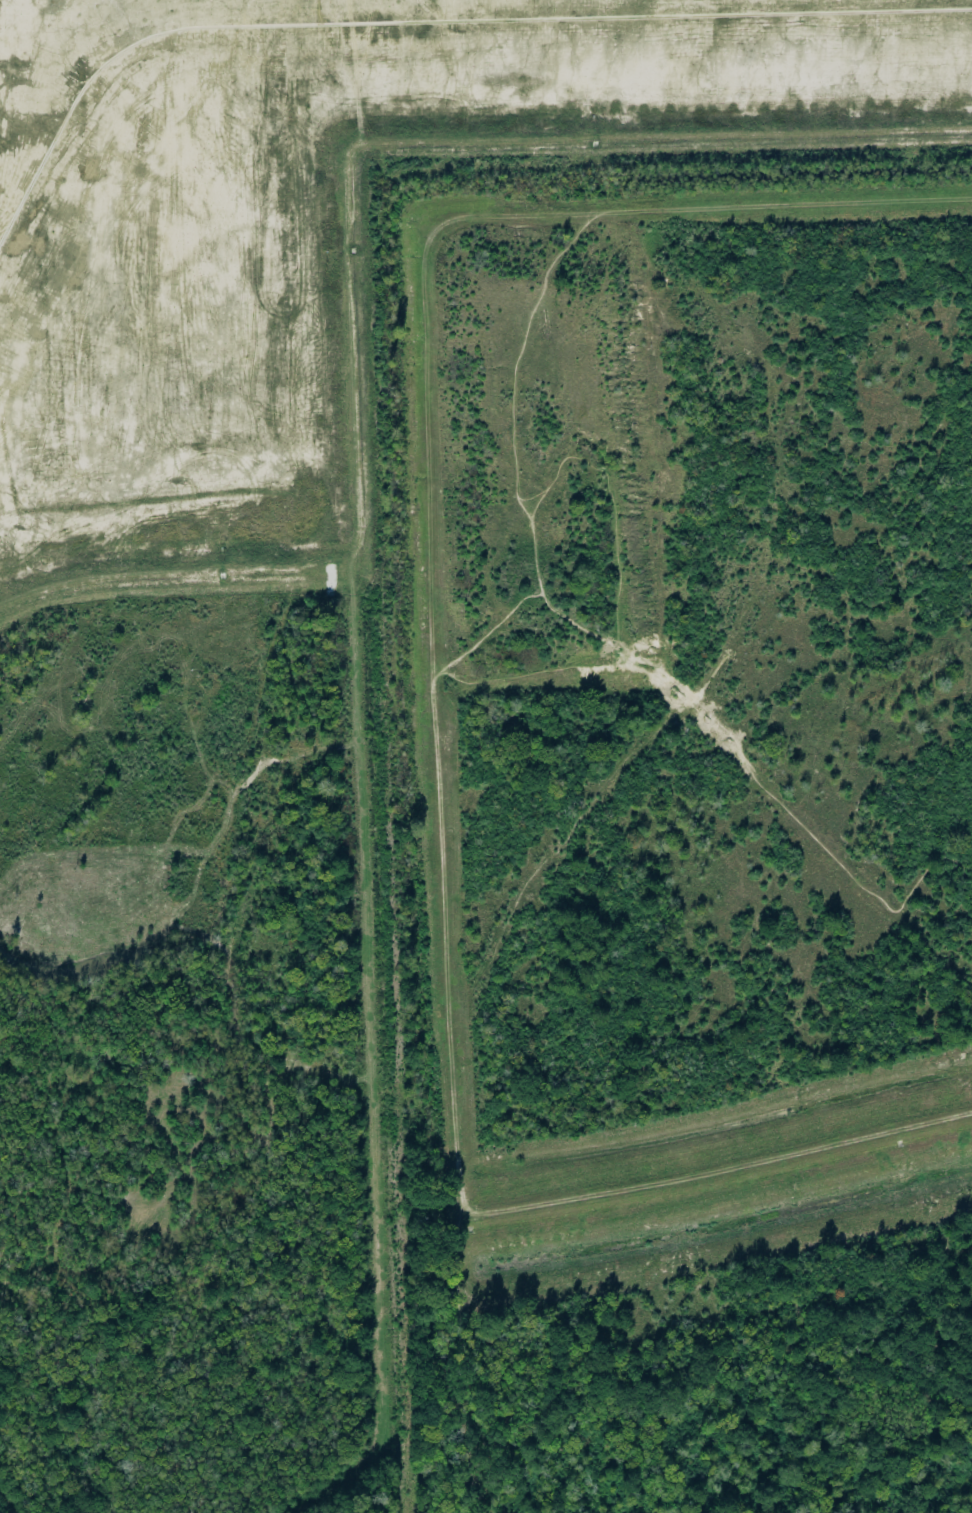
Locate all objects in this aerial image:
road: (659, 131)

